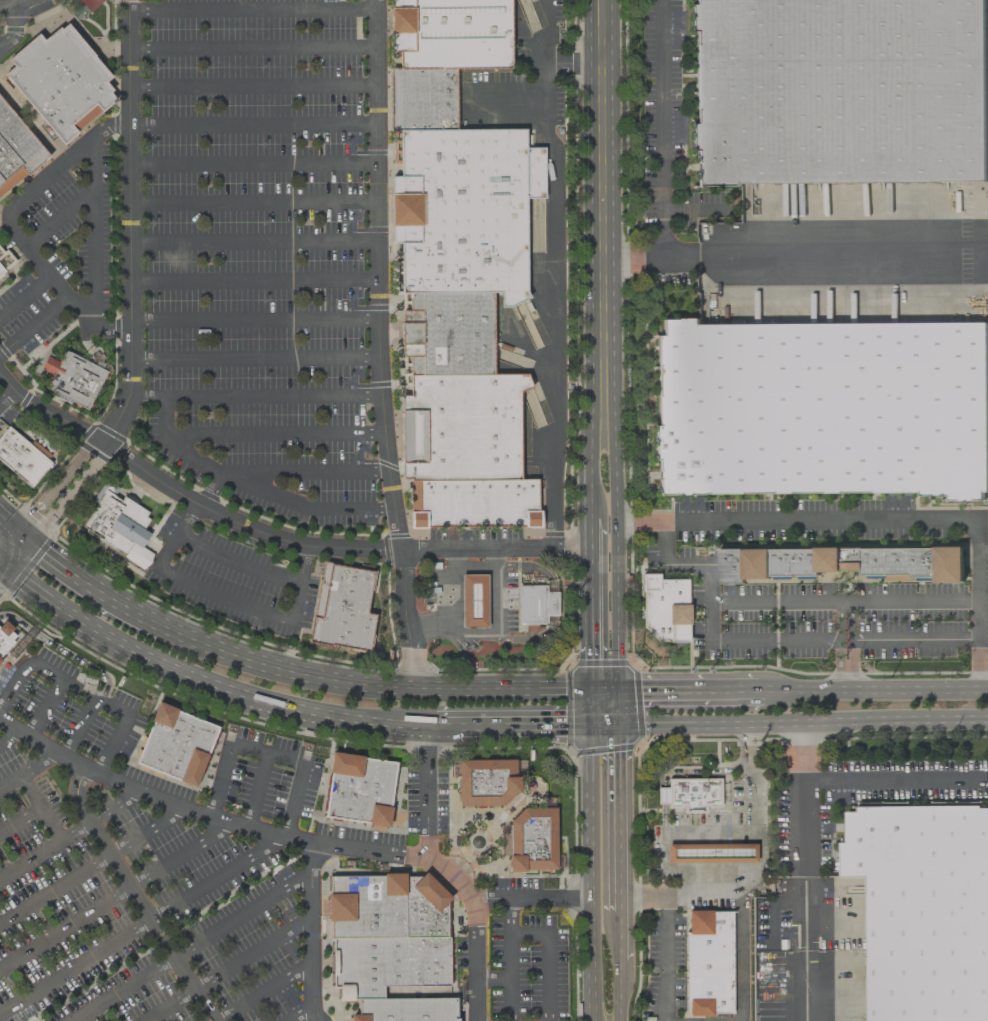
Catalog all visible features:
road: (16, 3)
road: (374, 4)
road: (126, 5)
road: (18, 7)
road: (251, 9)
road: (11, 30)
building: (450, 33)
road: (1, 42)
road: (251, 49)
building: (59, 81)
road: (251, 85)
building: (840, 91)
building: (422, 98)
road: (251, 125)
road: (663, 129)
building: (15, 150)
road: (252, 164)
road: (252, 202)
road: (602, 203)
building: (464, 209)
road: (58, 219)
road: (7, 226)
road: (128, 230)
road: (93, 232)
road: (252, 242)
parking lot: (260, 254)
road: (788, 258)
building: (4, 259)
road: (377, 278)
road: (553, 278)
road: (252, 280)
road: (25, 296)
road: (253, 319)
road: (34, 324)
building: (448, 333)
road: (254, 357)
building: (72, 377)
road: (5, 395)
road: (253, 397)
building: (824, 409)
building: (461, 427)
road: (591, 432)
road: (274, 434)
building: (24, 454)
road: (303, 473)
road: (254, 486)
road: (210, 490)
road: (589, 490)
road: (47, 491)
road: (67, 493)
building: (473, 504)
road: (189, 513)
road: (834, 519)
road: (6, 523)
building: (118, 524)
road: (250, 527)
traffic signals: (14, 530)
road: (22, 536)
traffic signals: (30, 543)
road: (493, 545)
road: (612, 548)
road: (301, 559)
road: (14, 560)
road: (235, 563)
road: (4, 564)
building: (846, 564)
traffic signals: (8, 568)
parking lot: (230, 580)
road: (446, 587)
road: (95, 588)
road: (219, 598)
road: (914, 598)
road: (779, 600)
building: (474, 601)
building: (536, 602)
road: (588, 605)
building: (342, 608)
building: (665, 608)
road: (711, 624)
road: (490, 628)
building: (5, 635)
road: (915, 638)
road: (61, 646)
building: (1, 660)
road: (40, 665)
road: (271, 667)
road: (208, 679)
road: (875, 691)
road: (485, 692)
traffic signals: (588, 692)
road: (600, 692)
traffic signals: (612, 692)
road: (687, 692)
road: (48, 707)
road: (612, 707)
road: (83, 722)
traffic signals: (588, 723)
road: (600, 723)
traffic signals: (613, 723)
road: (732, 723)
road: (920, 723)
road: (510, 724)
road: (120, 727)
road: (10, 733)
building: (175, 744)
road: (265, 753)
road: (27, 767)
building: (485, 782)
road: (258, 788)
building: (358, 788)
building: (688, 793)
road: (802, 809)
road: (21, 815)
road: (752, 815)
road: (615, 817)
road: (266, 827)
road: (68, 833)
building: (532, 839)
fountain: (476, 841)
building: (711, 853)
road: (31, 856)
road: (590, 856)
road: (94, 864)
road: (557, 871)
road: (454, 872)
road: (131, 893)
road: (117, 894)
road: (739, 894)
road: (499, 899)
building: (366, 906)
building: (424, 906)
building: (924, 910)
road: (507, 916)
road: (142, 922)
road: (308, 931)
road: (618, 935)
road: (189, 947)
road: (552, 954)
road: (662, 955)
building: (389, 960)
road: (480, 960)
building: (708, 962)
road: (224, 968)
road: (507, 977)
road: (493, 978)
road: (618, 990)
building: (357, 991)
road: (262, 995)
building: (404, 1009)
road: (303, 1014)

